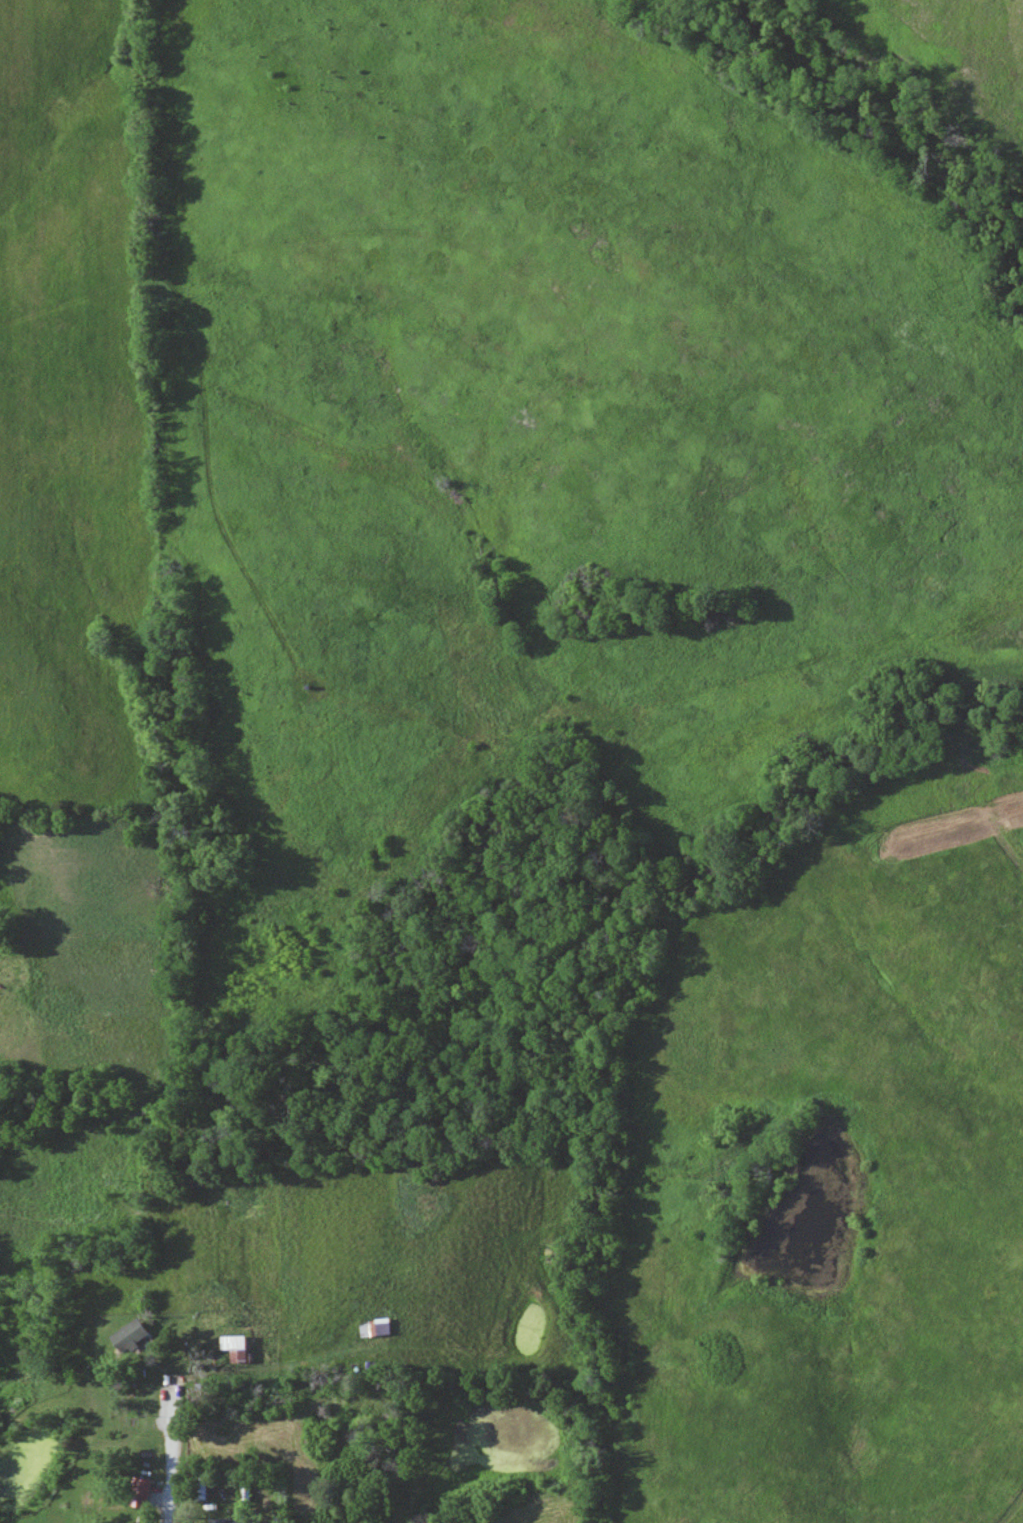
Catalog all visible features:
building: (371, 1327)
building: (240, 1340)
road: (174, 1423)

